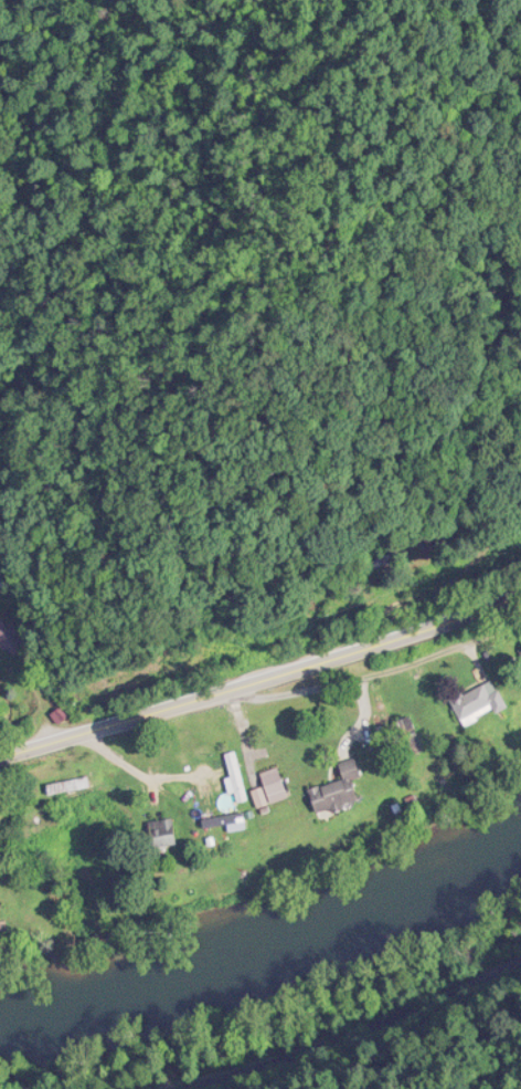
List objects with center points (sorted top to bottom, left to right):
building: (10, 639)
road: (262, 679)
building: (478, 701)
building: (402, 733)
building: (273, 784)
building: (337, 788)
building: (161, 830)
river: (267, 964)
road: (325, 1020)
road: (325, 1020)

